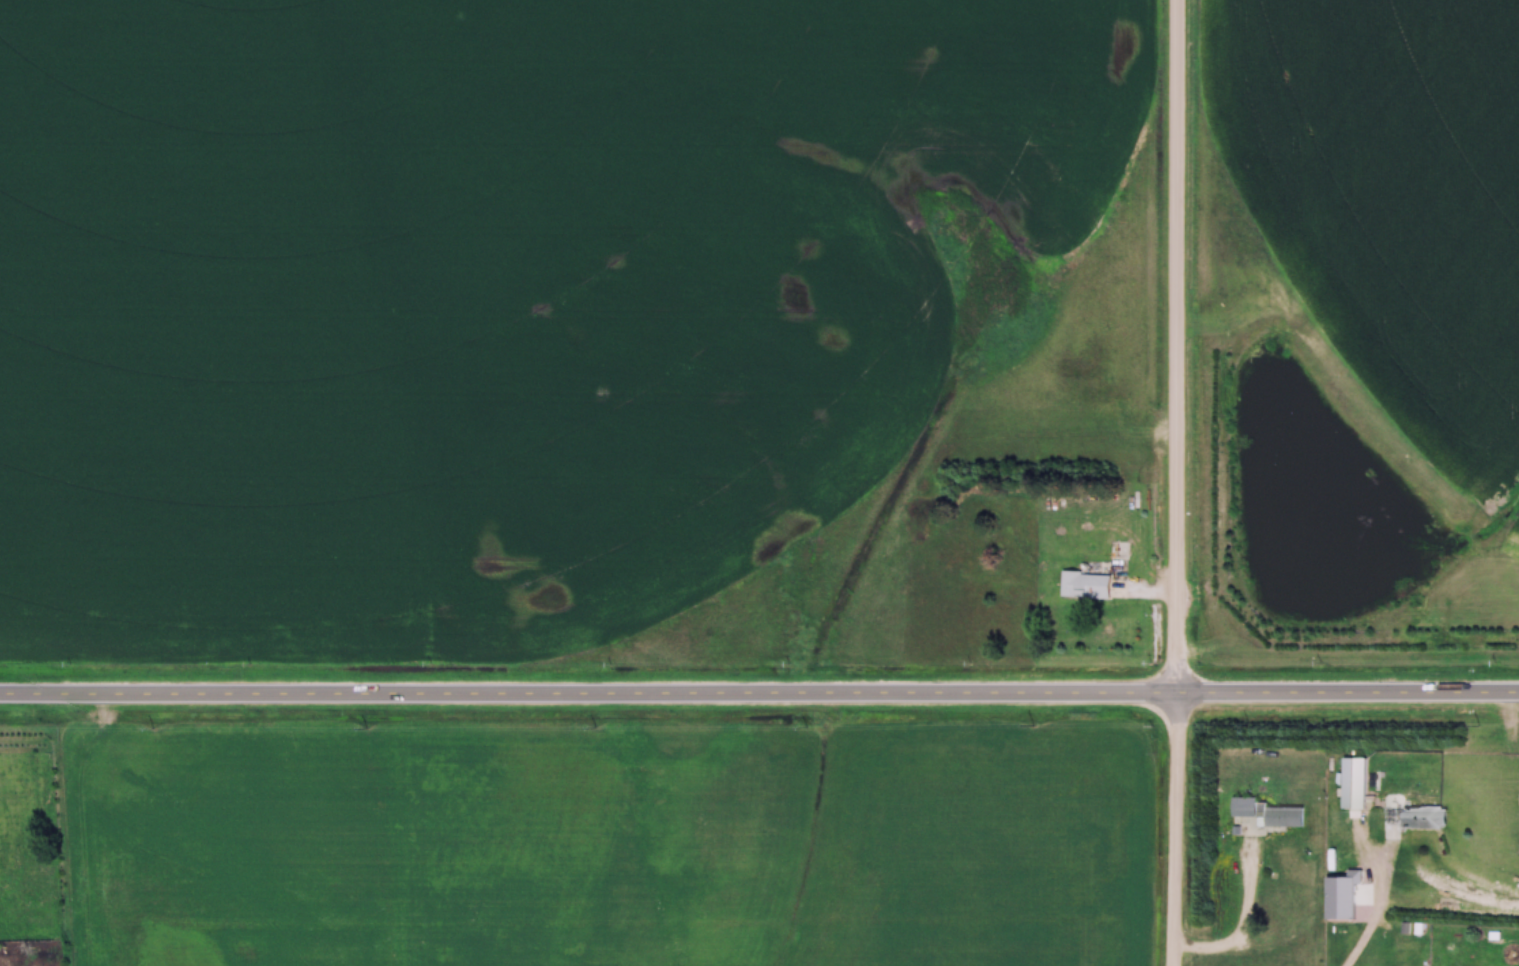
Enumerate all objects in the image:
road: (1180, 483)
building: (1087, 585)
road: (759, 691)
building: (1355, 784)
building: (1245, 807)
building: (1285, 817)
building: (1416, 818)
road: (1363, 905)
road: (1247, 931)

